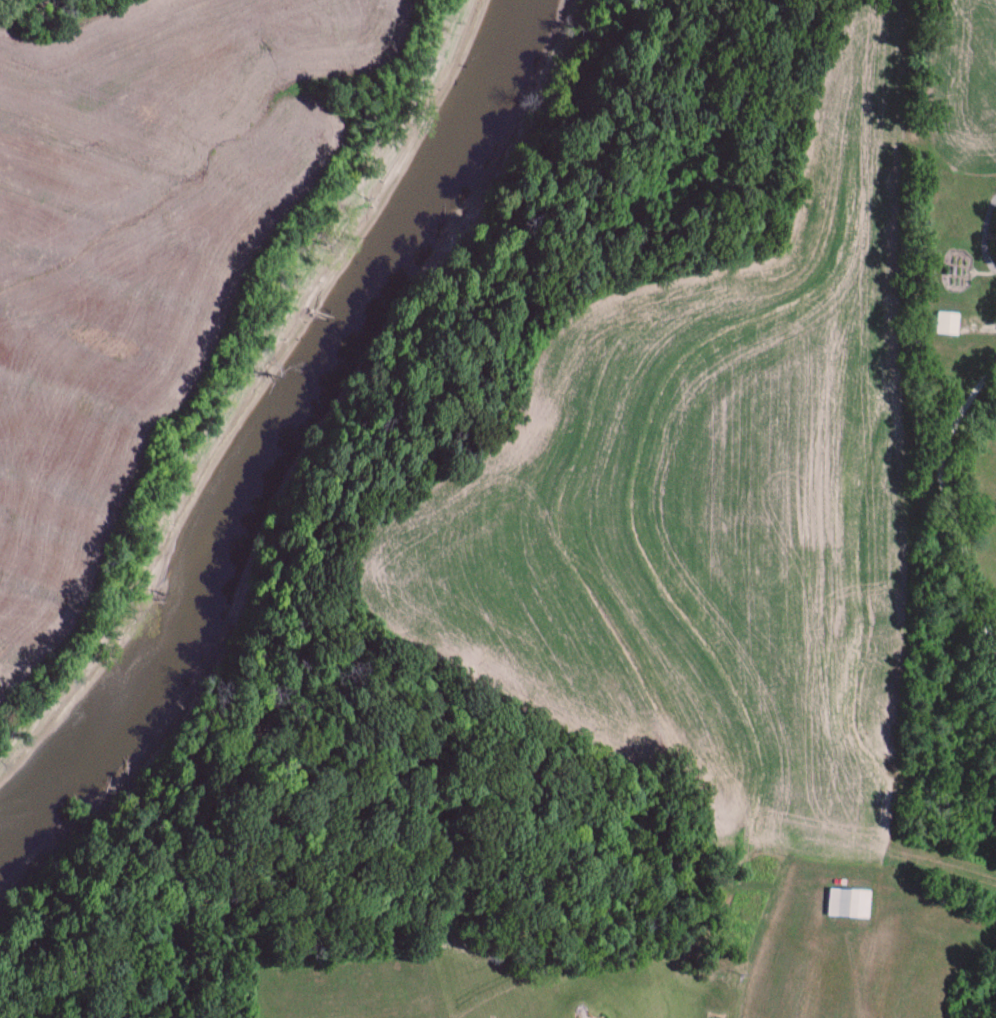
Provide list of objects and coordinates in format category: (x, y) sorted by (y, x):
road: (979, 230)
building: (947, 325)
road: (947, 512)
building: (850, 904)

